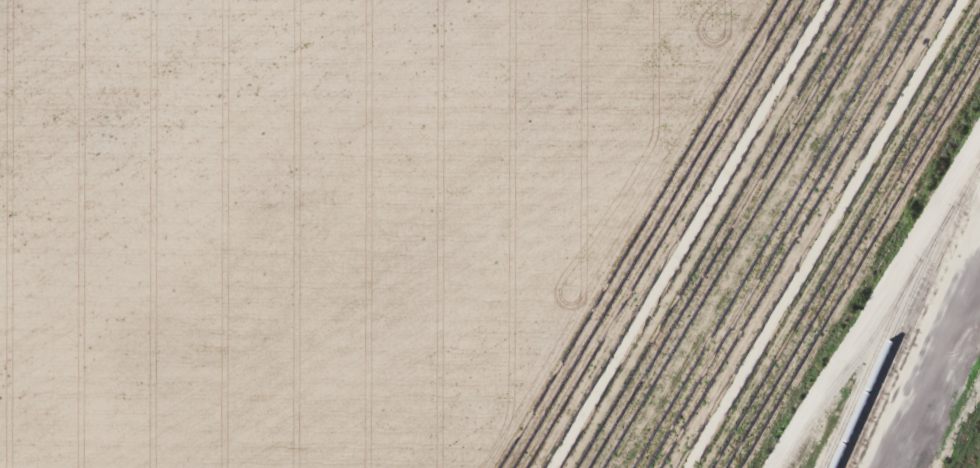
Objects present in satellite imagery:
railway: (876, 311)
railway: (908, 312)
railway: (913, 321)
railway: (960, 424)
railway: (973, 452)

